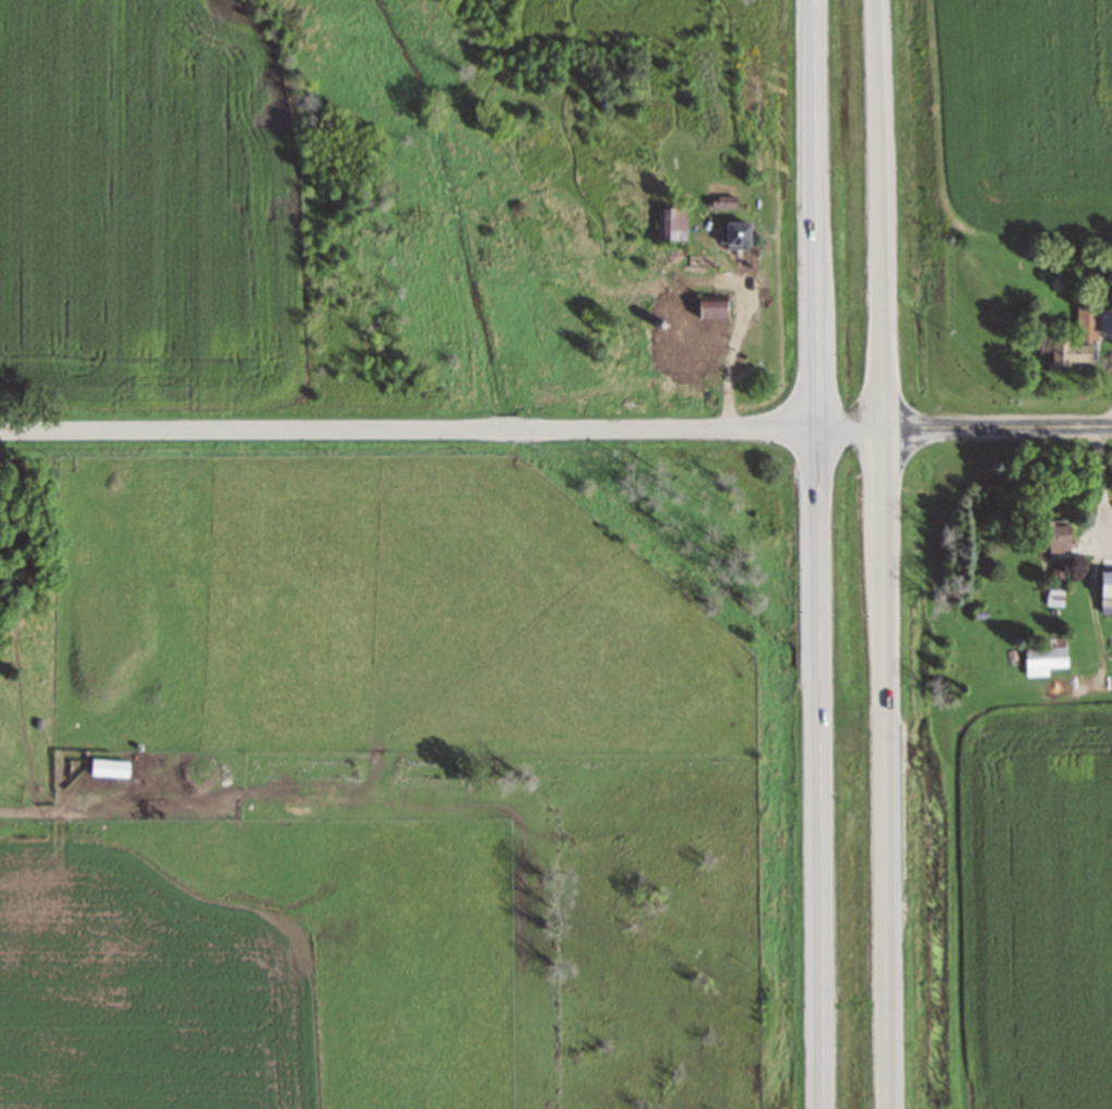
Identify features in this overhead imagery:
building: (722, 202)
building: (675, 222)
building: (734, 236)
building: (691, 326)
building: (1077, 340)
road: (555, 428)
building: (1050, 534)
road: (819, 553)
road: (883, 553)
building: (1058, 571)
building: (1105, 590)
building: (1108, 648)
building: (1043, 659)
building: (108, 767)

